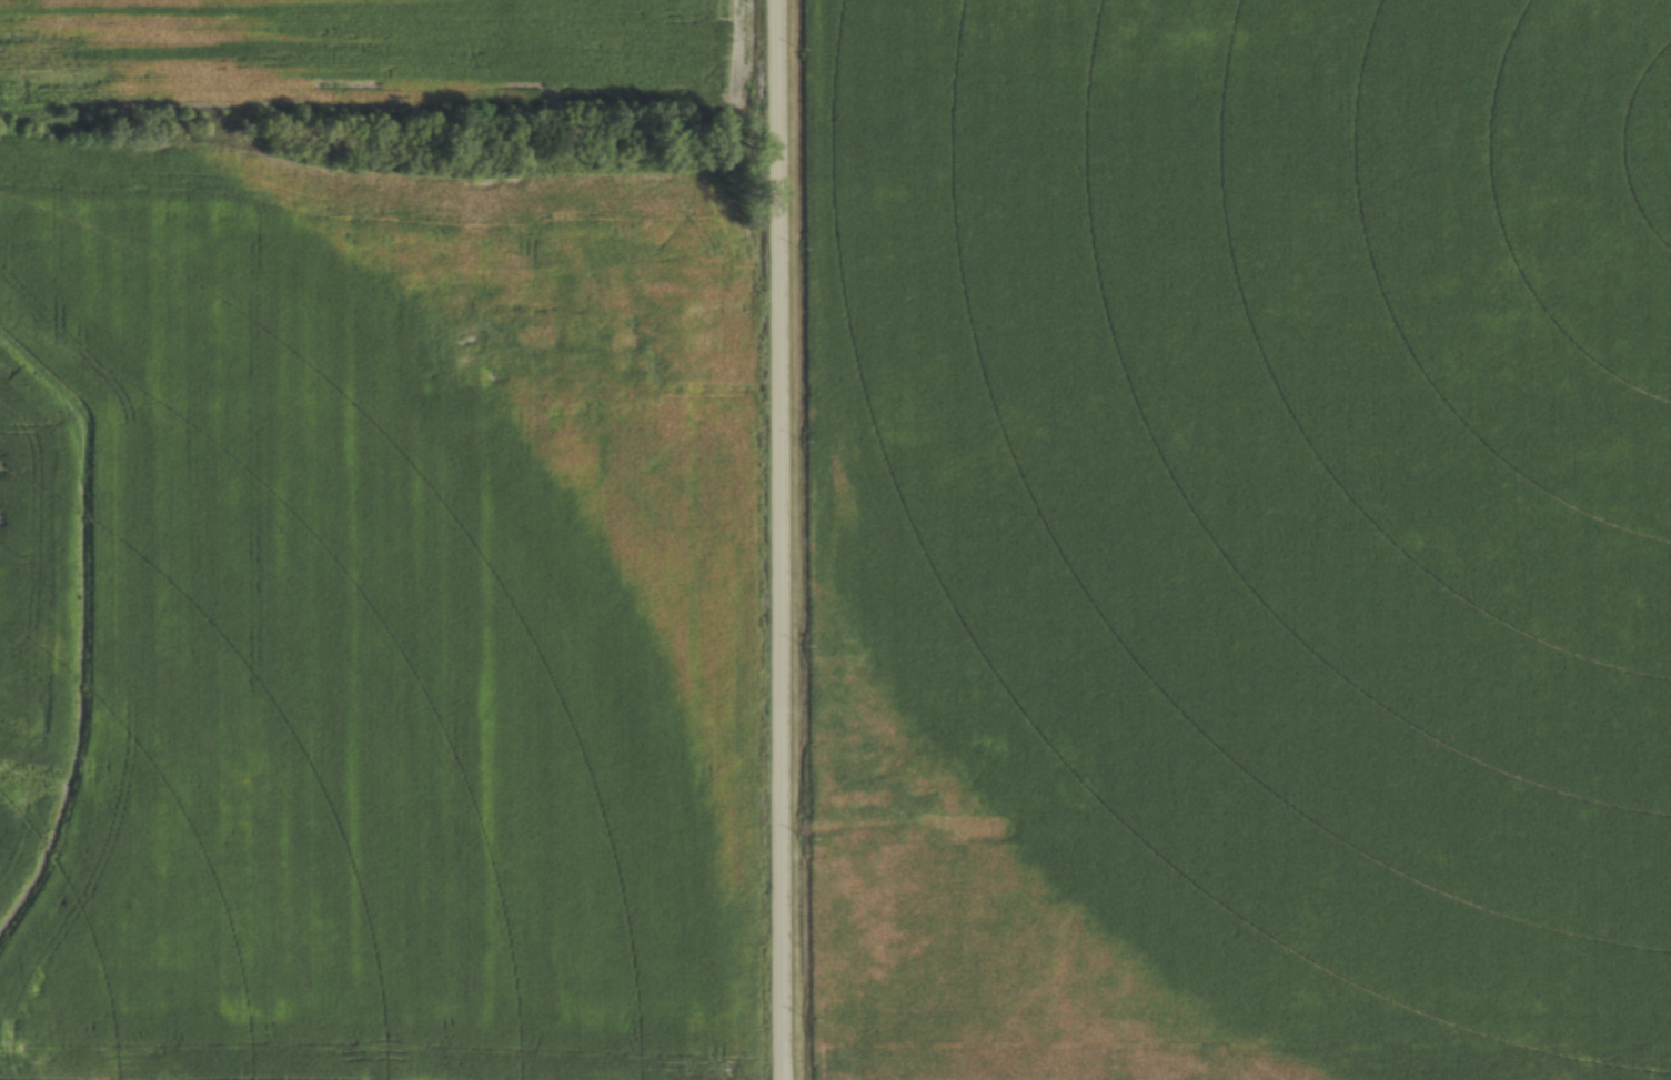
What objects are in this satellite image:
building: (704, 345)
building: (631, 364)
road: (708, 386)
road: (782, 539)
building: (1069, 787)

